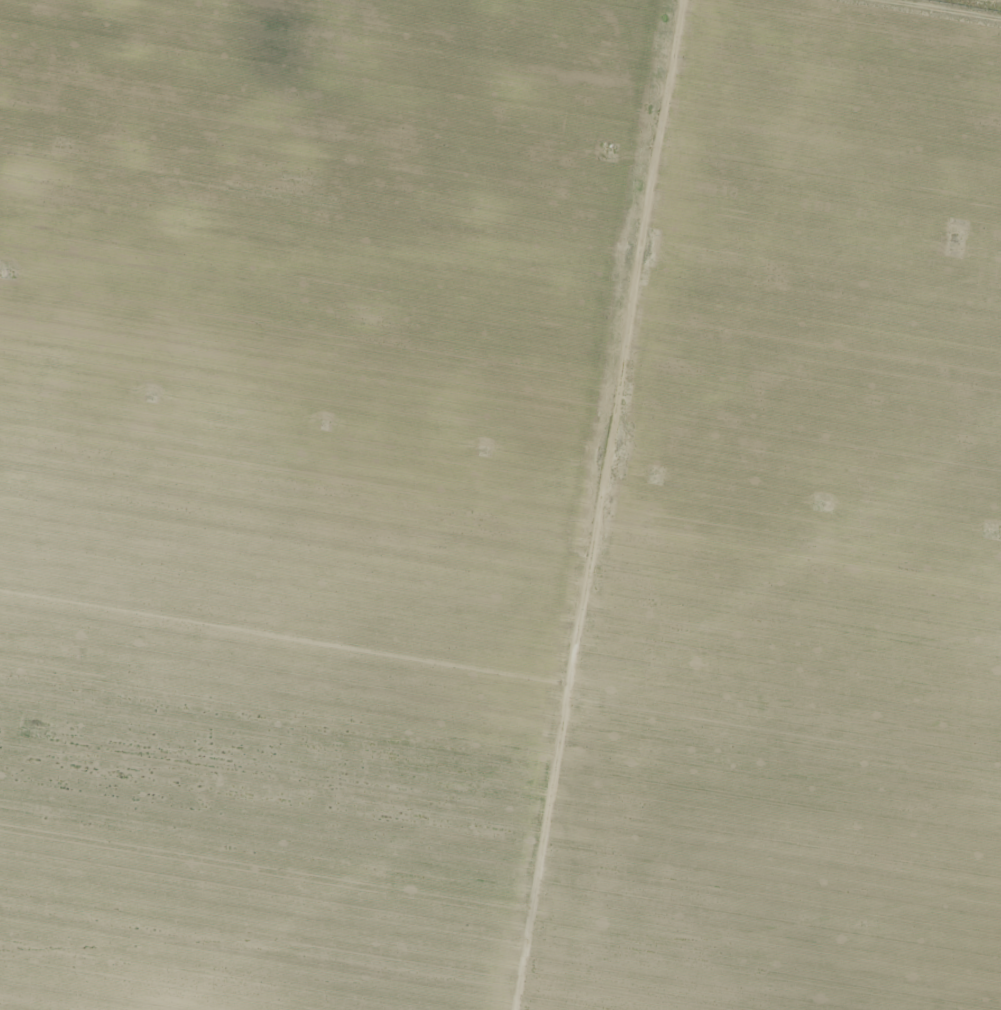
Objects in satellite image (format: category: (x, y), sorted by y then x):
road: (594, 504)
landfill: (996, 982)

